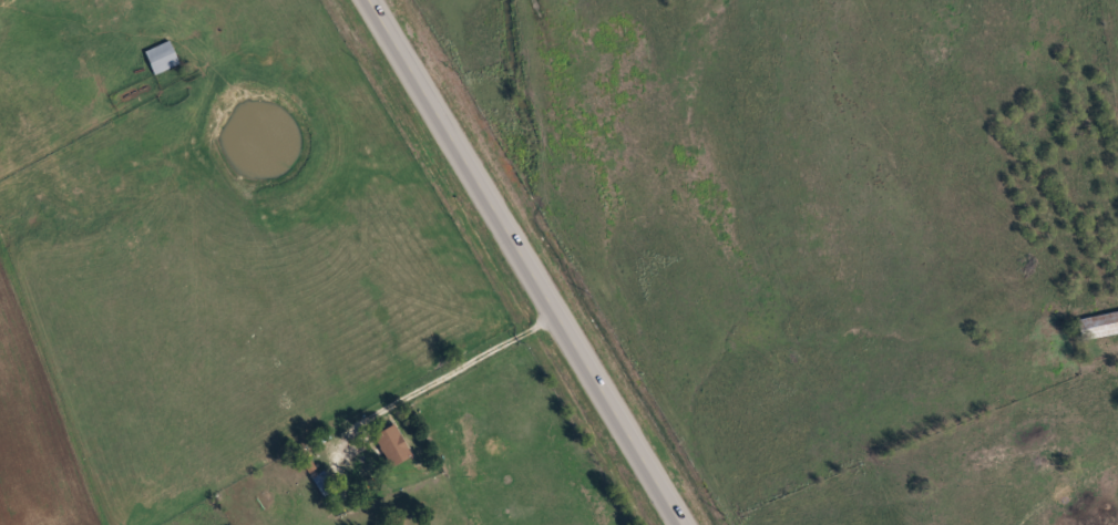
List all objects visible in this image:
building: (157, 56)
road: (515, 262)
building: (1095, 325)
road: (465, 366)
building: (389, 444)
building: (321, 485)
road: (1117, 524)

